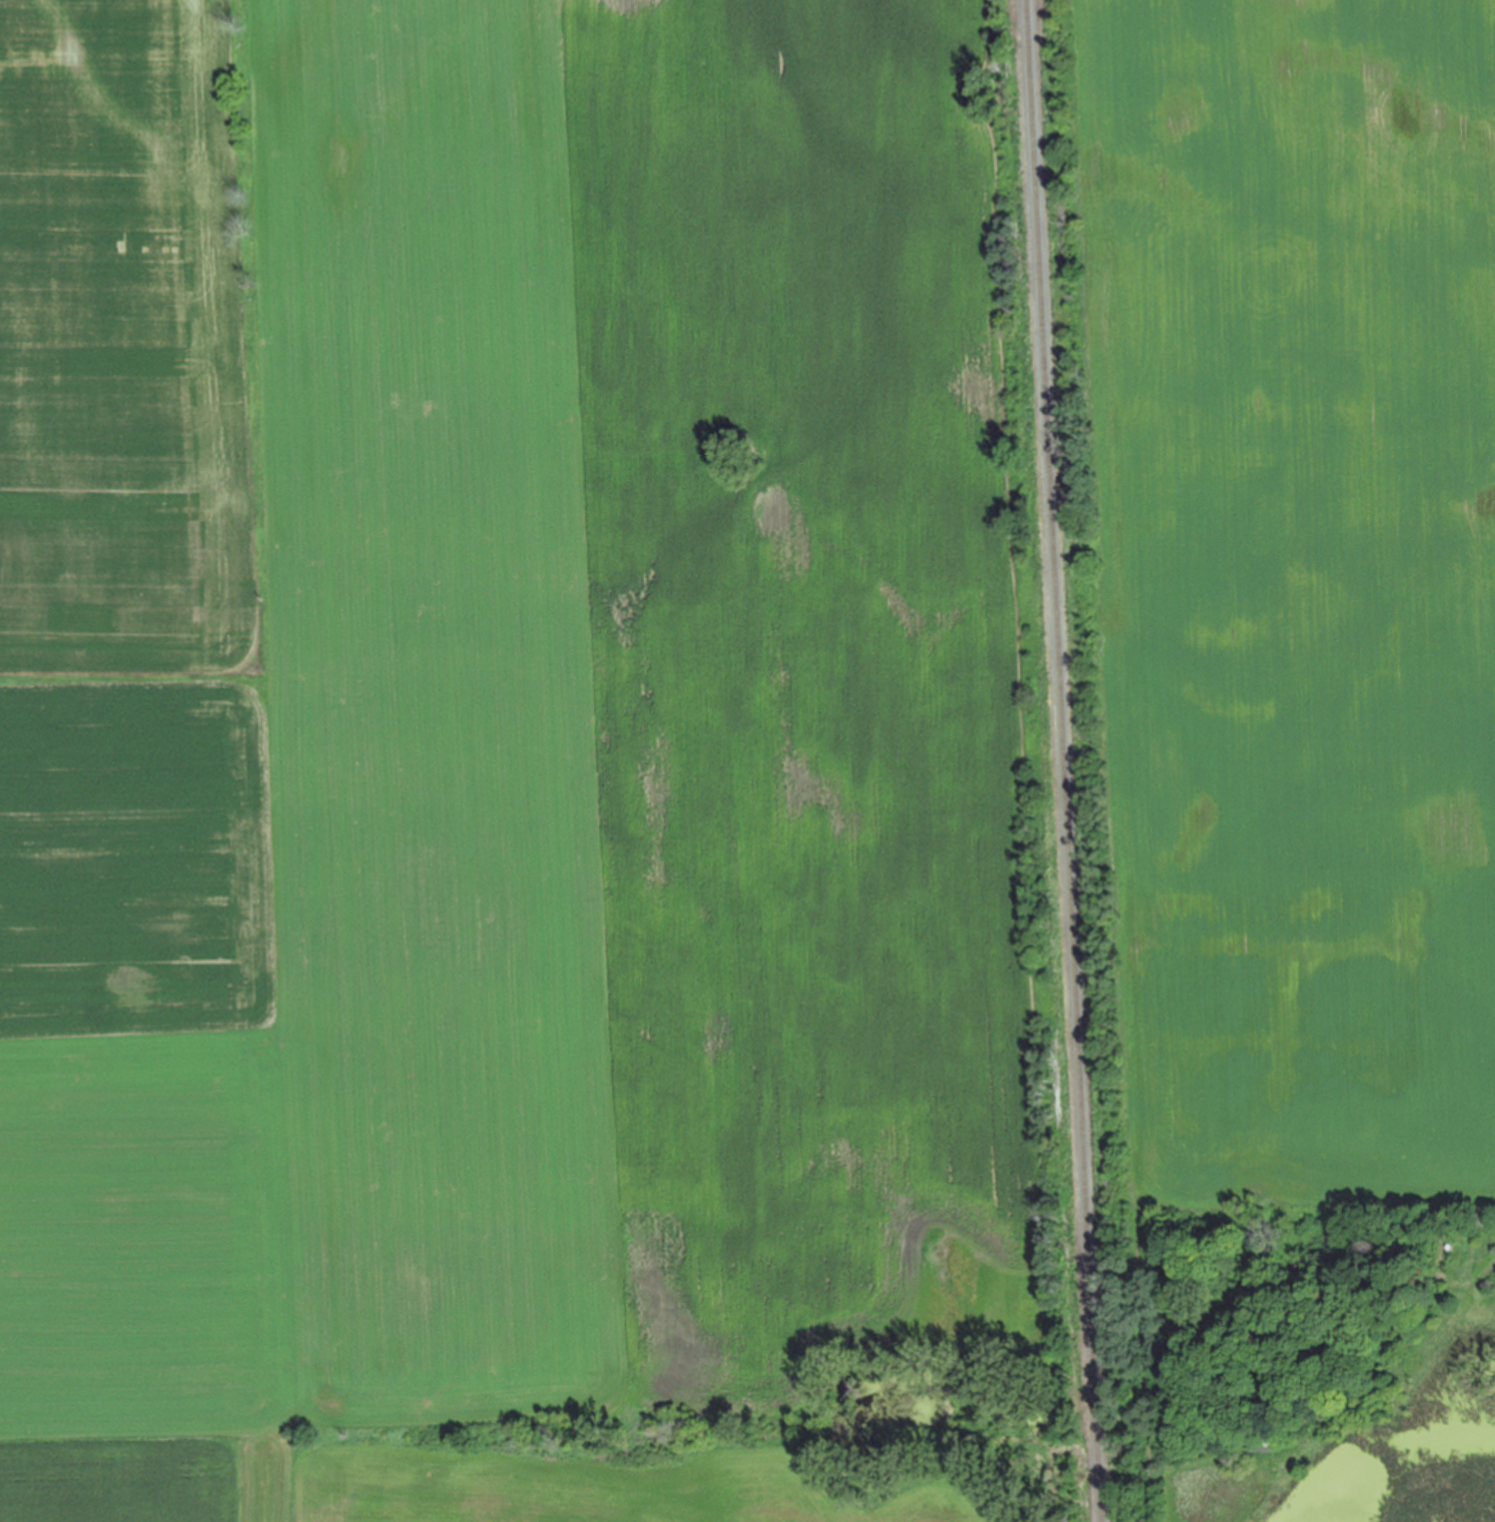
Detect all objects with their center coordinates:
railway: (1059, 761)

